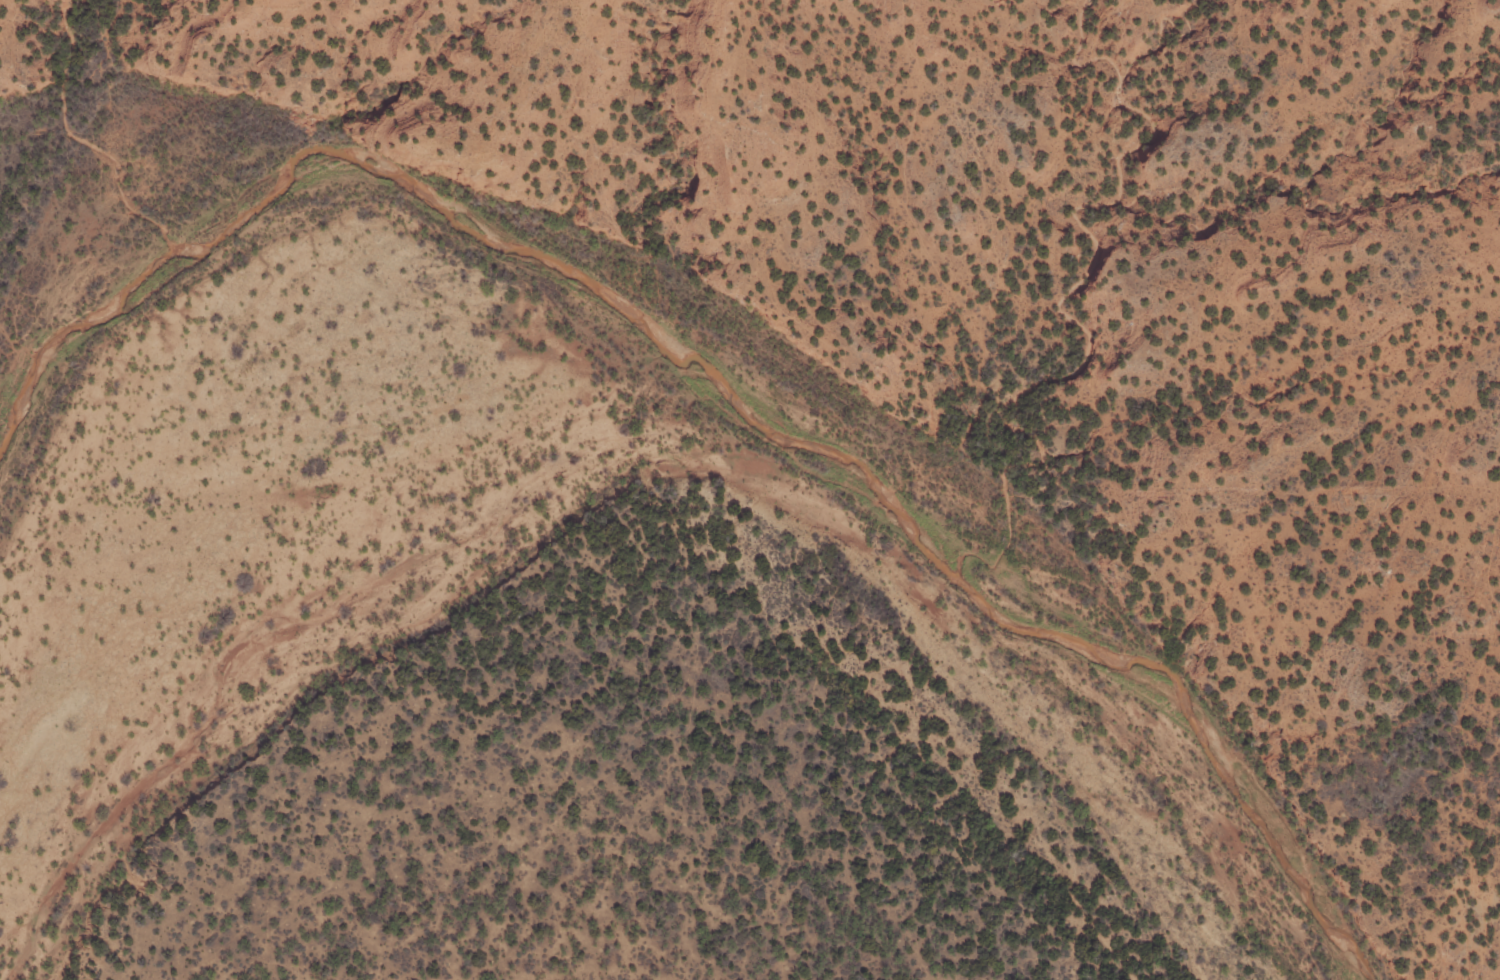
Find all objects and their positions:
river: (719, 399)
road: (666, 874)

